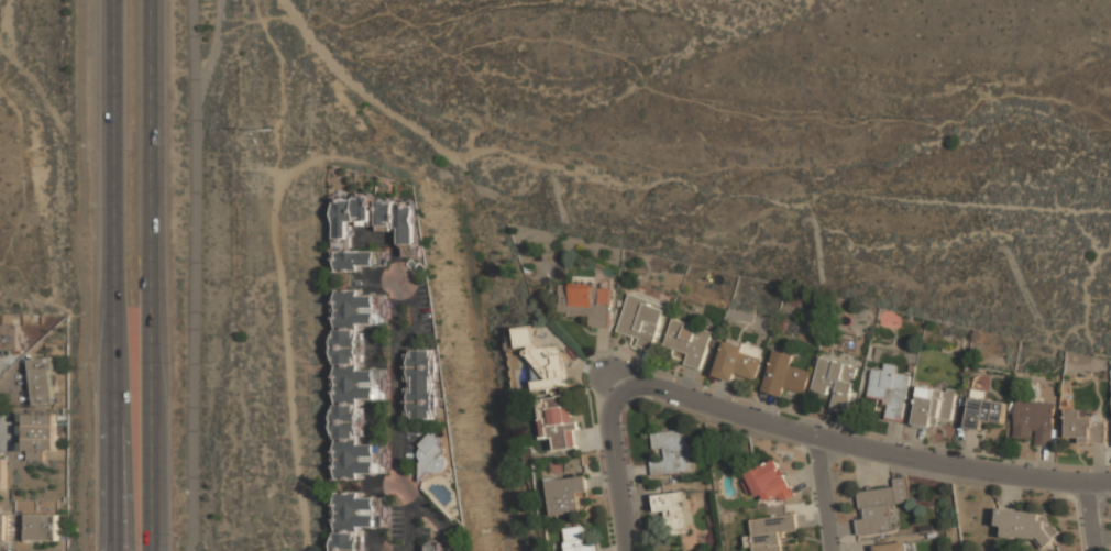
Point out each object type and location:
road: (215, 46)
road: (659, 85)
power tower: (272, 135)
park: (761, 137)
park: (43, 156)
building: (400, 219)
building: (341, 238)
road: (113, 275)
road: (148, 275)
road: (194, 275)
building: (587, 305)
building: (641, 323)
building: (10, 338)
building: (690, 344)
building: (546, 362)
building: (1080, 363)
building: (740, 365)
building: (785, 375)
building: (43, 382)
building: (836, 383)
building: (358, 385)
building: (424, 386)
building: (891, 392)
building: (934, 407)
road: (396, 411)
building: (986, 414)
building: (562, 423)
building: (1035, 423)
building: (1086, 429)
building: (40, 432)
road: (871, 449)
building: (671, 454)
building: (36, 455)
building: (430, 460)
road: (617, 460)
building: (3, 474)
building: (768, 483)
road: (824, 494)
building: (566, 496)
building: (880, 508)
building: (674, 513)
road: (1089, 517)
building: (359, 519)
building: (1026, 527)
building: (41, 528)
building: (3, 529)
building: (773, 532)
building: (577, 540)
building: (894, 547)
building: (435, 549)

